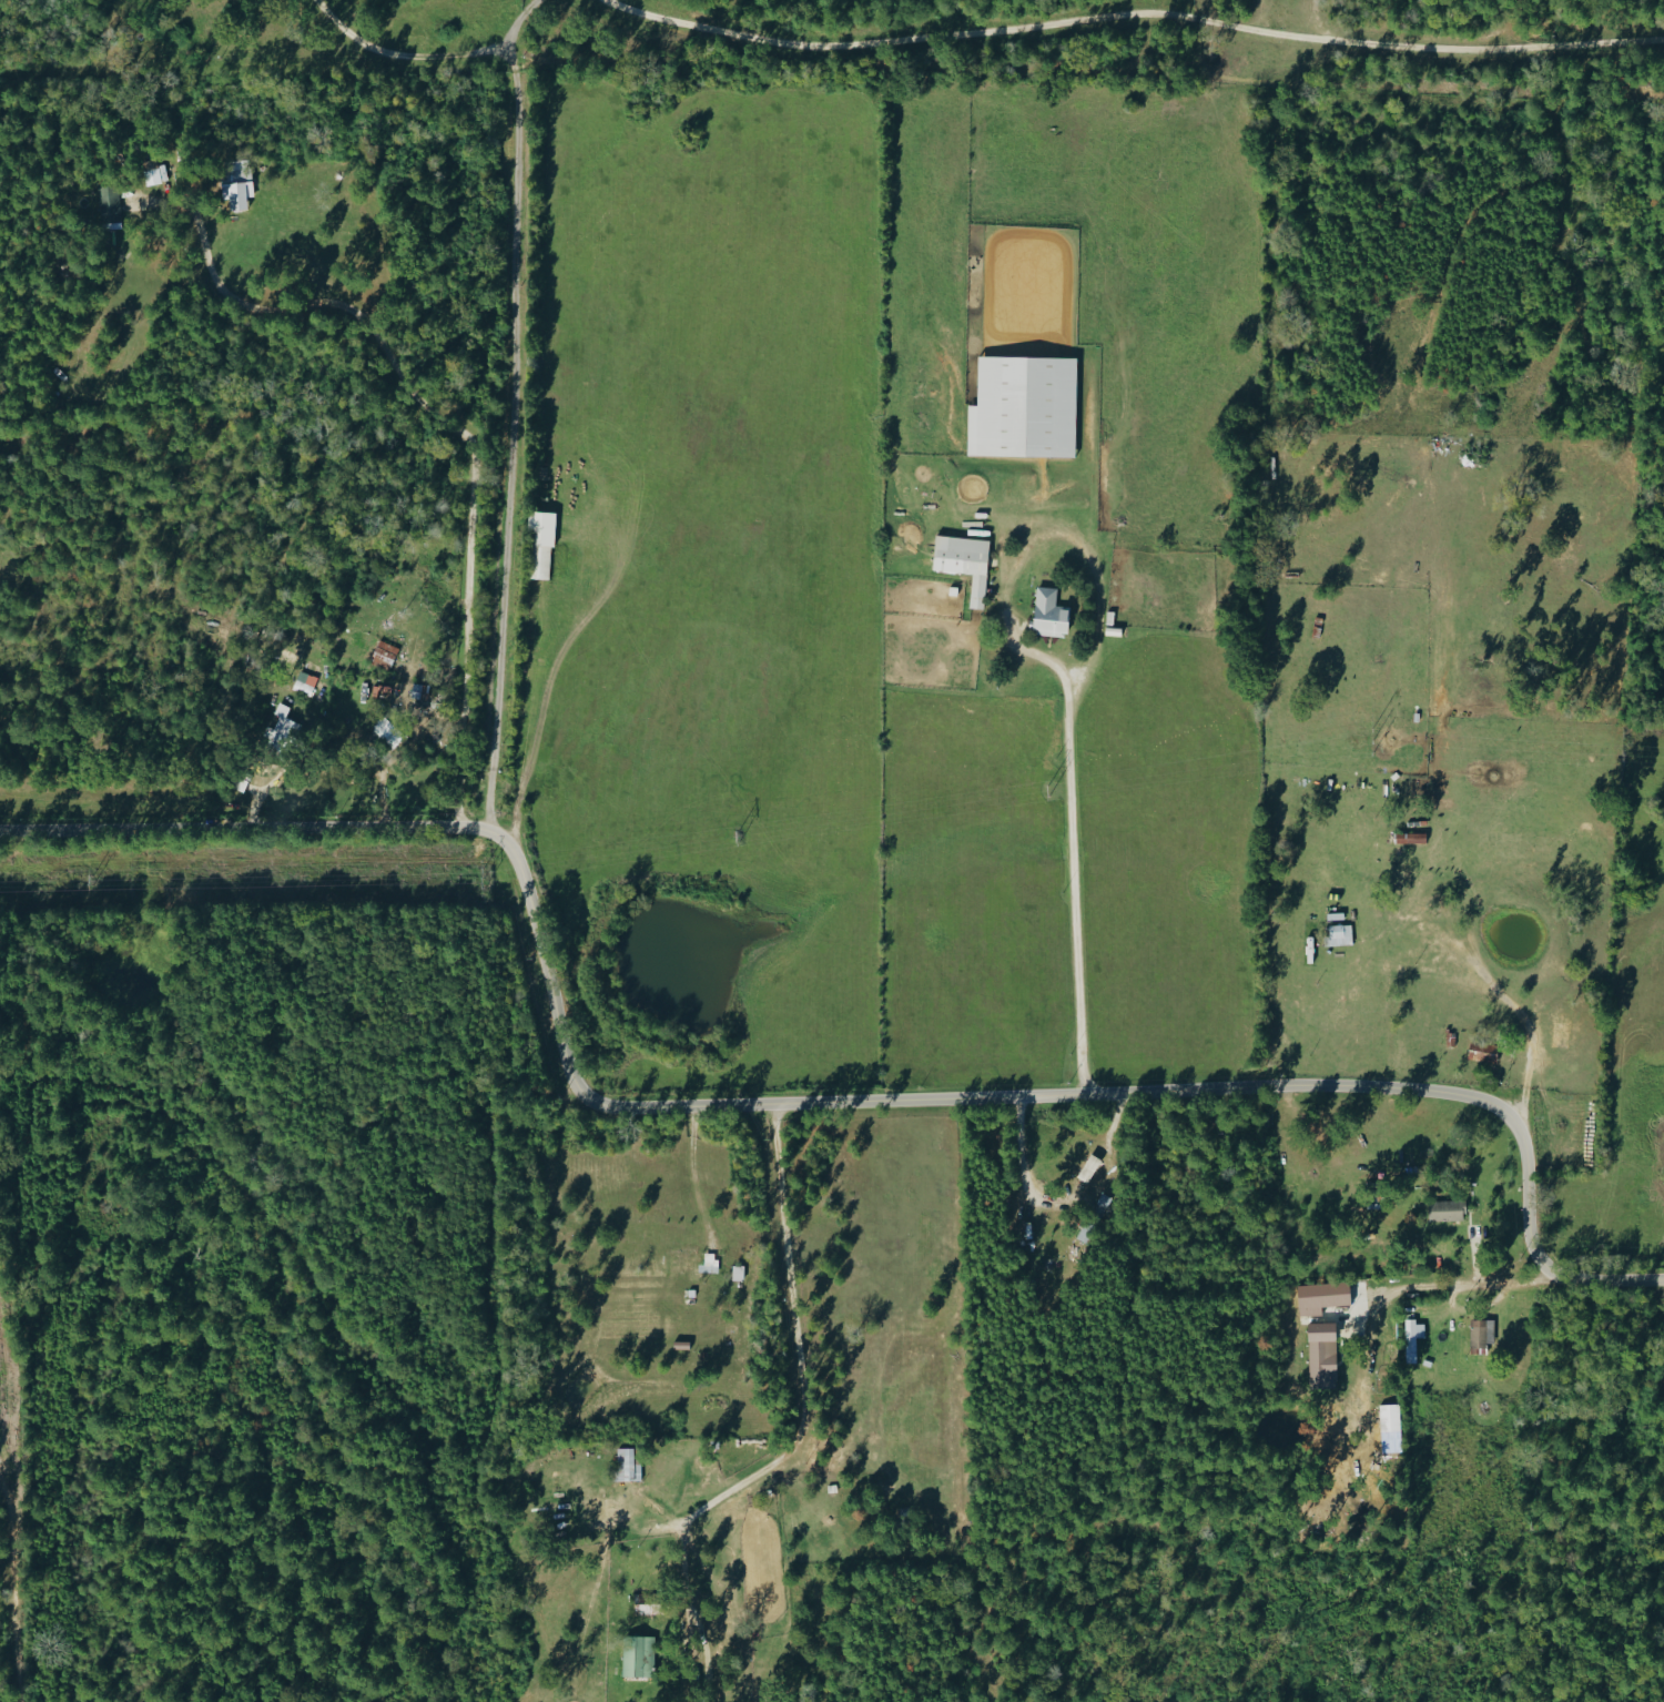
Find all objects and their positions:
road: (1134, 20)
road: (404, 54)
building: (236, 182)
building: (108, 203)
building: (1022, 407)
road: (515, 409)
road: (445, 423)
road: (126, 499)
road: (1046, 531)
building: (539, 545)
building: (962, 561)
building: (1046, 612)
building: (382, 655)
building: (303, 682)
road: (537, 688)
building: (283, 723)
power tower: (1422, 742)
road: (262, 788)
power tower: (1043, 791)
power tower: (714, 835)
building: (1409, 838)
power tower: (477, 884)
road: (1074, 885)
power tower: (87, 887)
road: (1508, 999)
building: (1481, 1052)
road: (797, 1107)
building: (1087, 1166)
road: (698, 1175)
road: (1017, 1182)
building: (1444, 1209)
building: (691, 1258)
road: (1462, 1289)
building: (1411, 1337)
building: (1320, 1354)
road: (805, 1412)
building: (1388, 1416)
building: (626, 1463)
building: (636, 1655)

